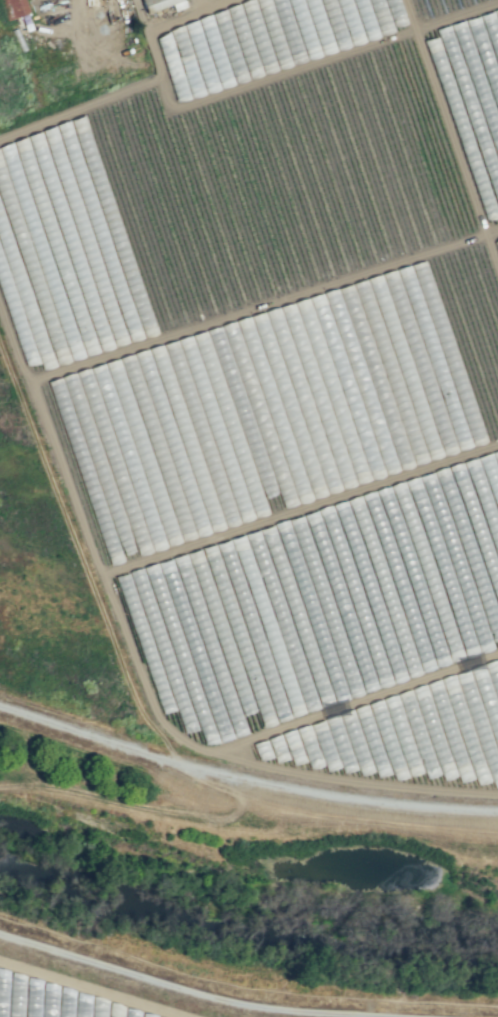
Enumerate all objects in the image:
road: (414, 2)
building: (162, 4)
building: (14, 8)
road: (69, 11)
building: (478, 145)
crop: (250, 425)
river: (245, 906)
crop: (53, 1001)

